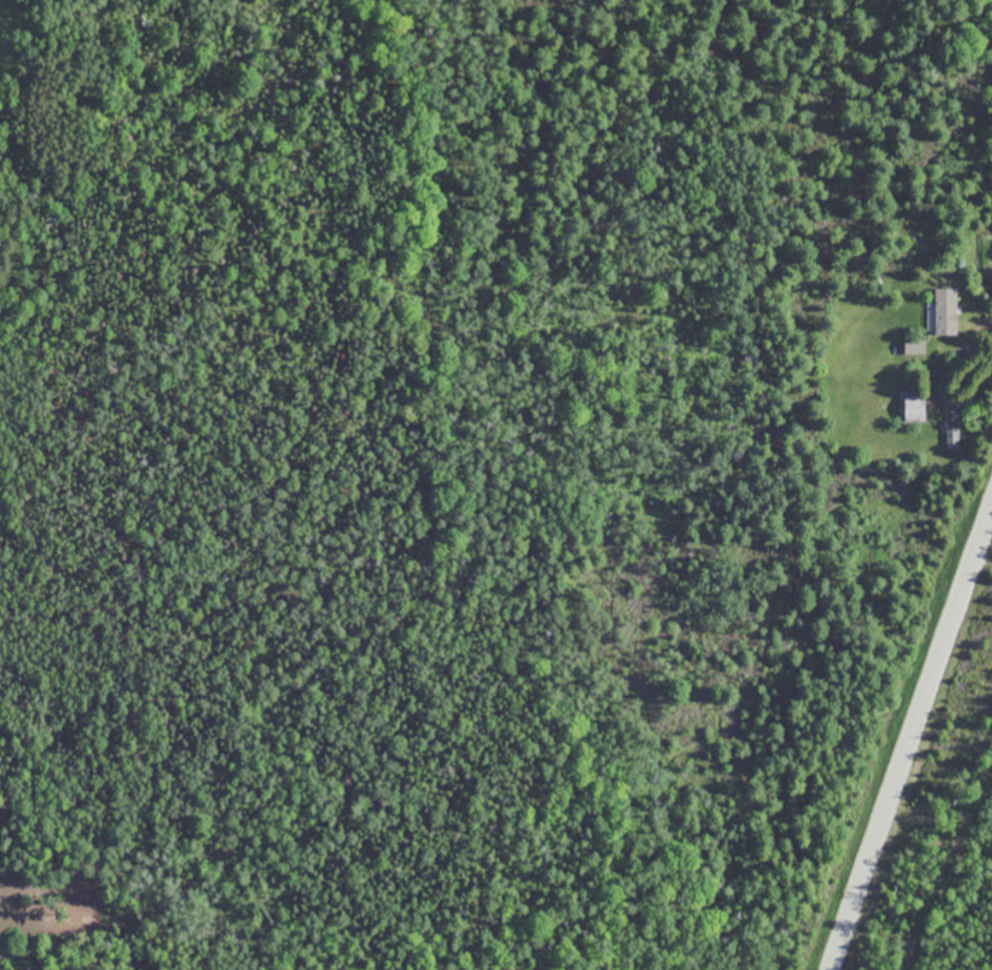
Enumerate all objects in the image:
building: (945, 311)
road: (984, 345)
building: (913, 407)
building: (952, 427)
road: (911, 737)

